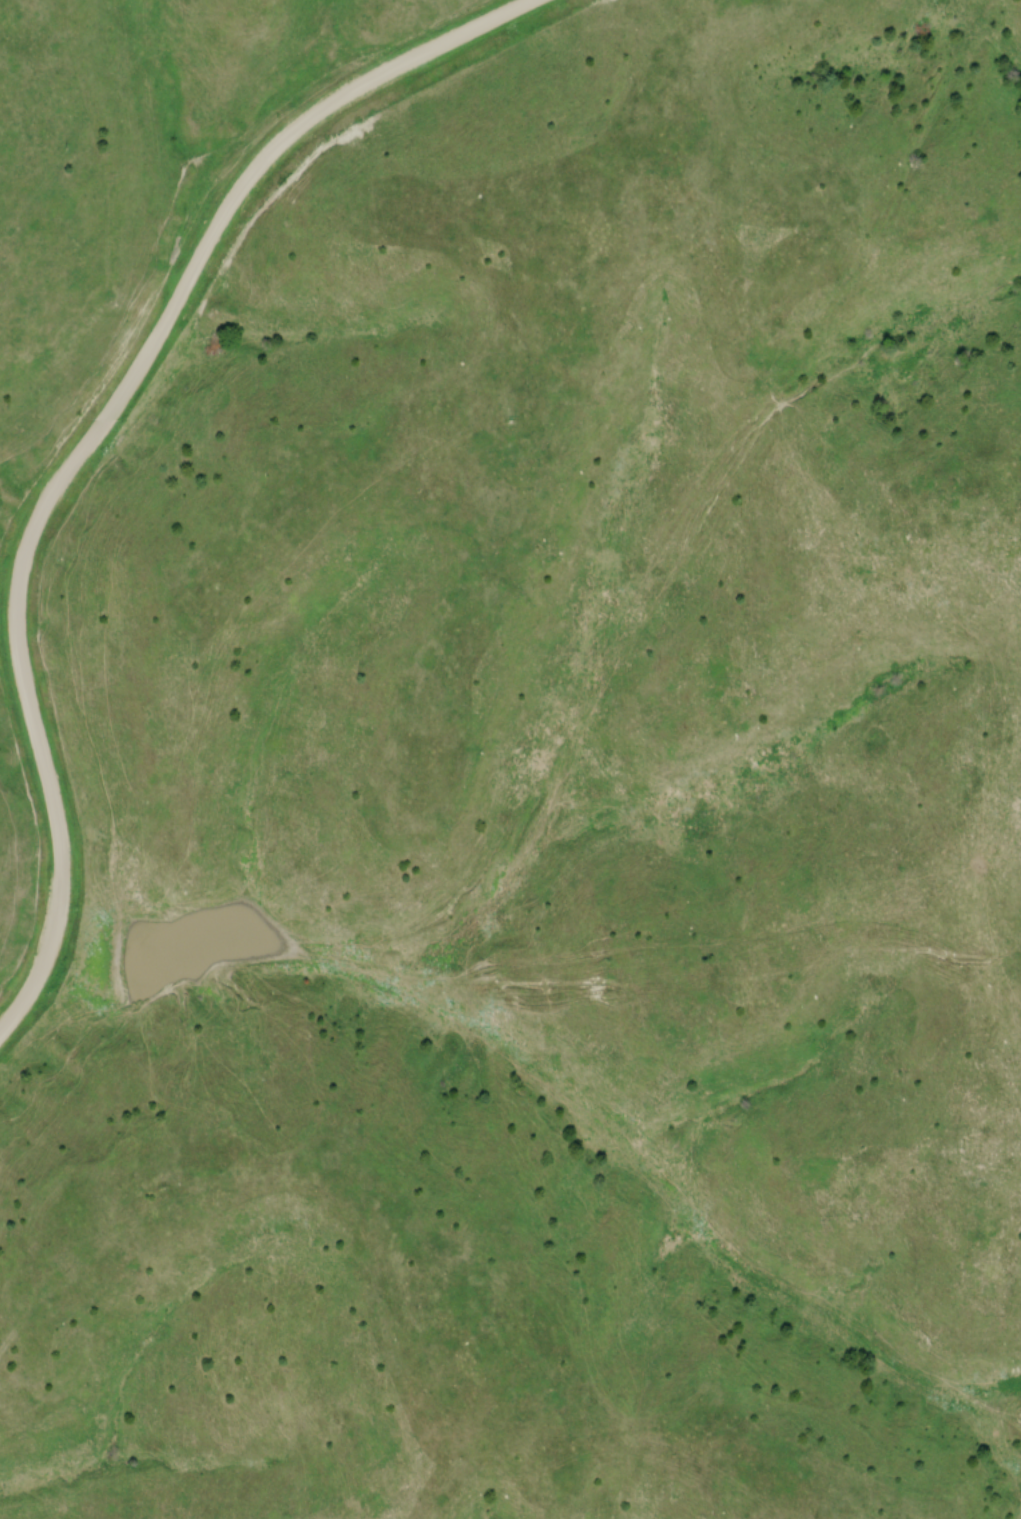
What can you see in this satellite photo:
road: (91, 438)

